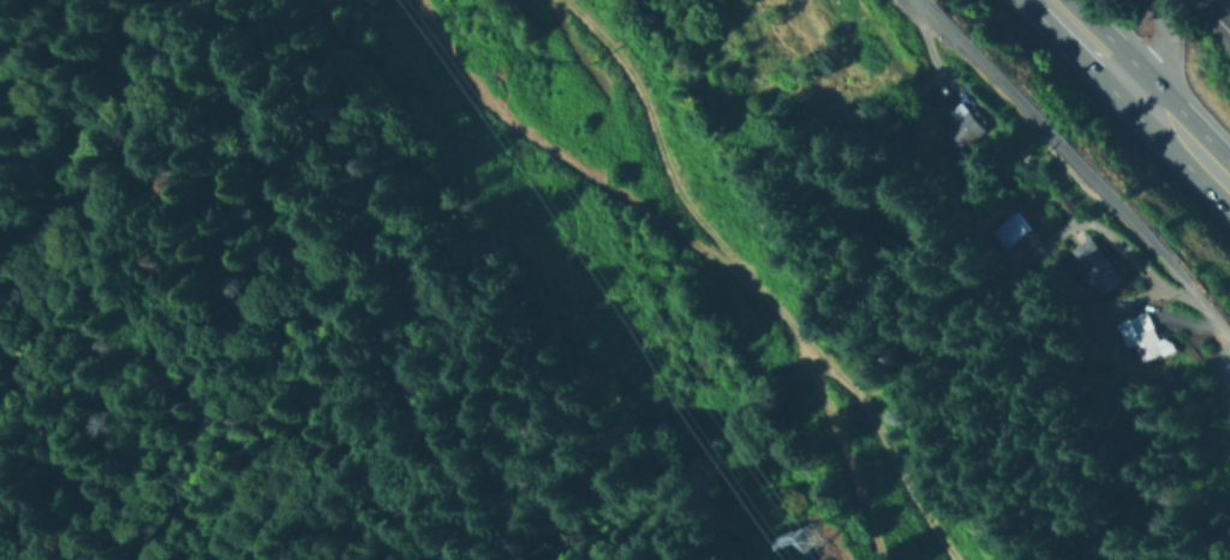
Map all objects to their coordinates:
railway: (1214, 16)
road: (1095, 41)
road: (1164, 42)
road: (1186, 128)
building: (967, 130)
road: (1075, 170)
building: (1016, 230)
building: (1097, 265)
road: (754, 278)
building: (1141, 338)
road: (1218, 363)
building: (1229, 523)
power tower: (801, 536)

